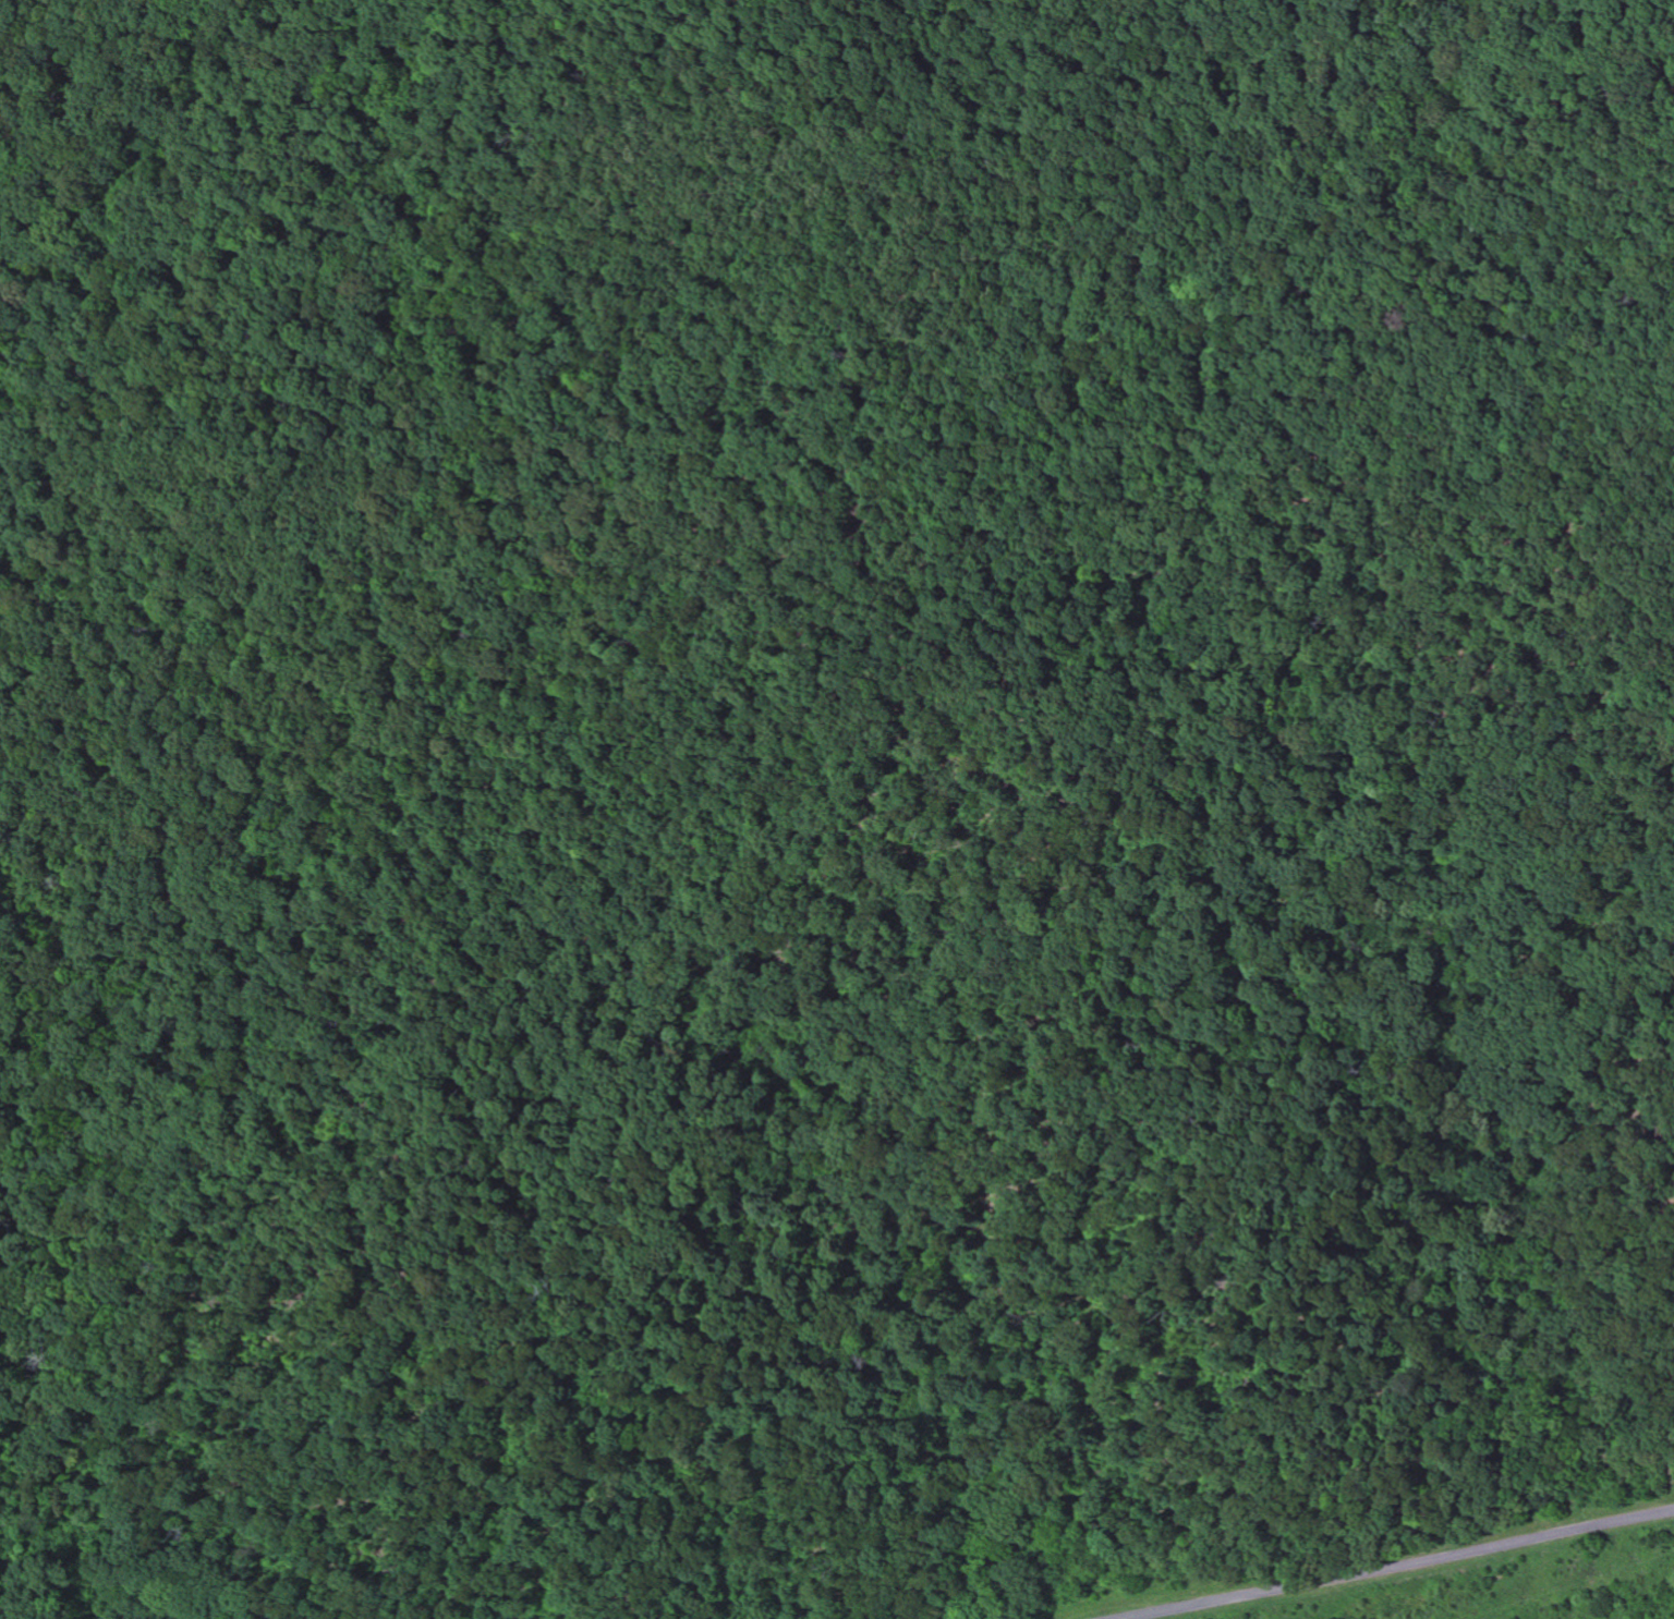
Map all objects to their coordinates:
road: (1404, 1566)

